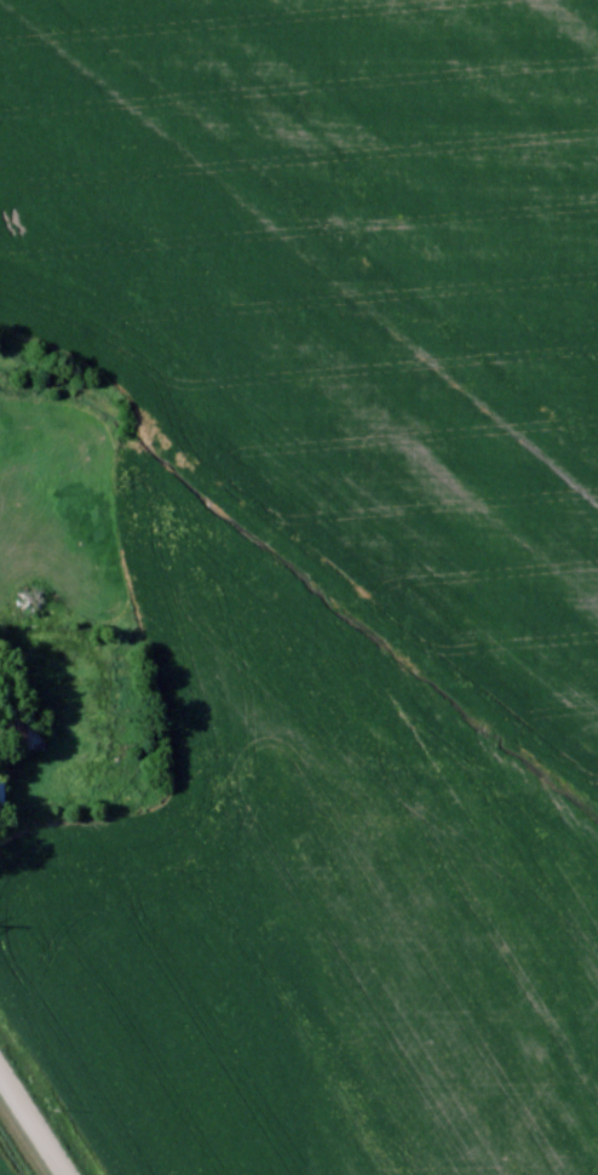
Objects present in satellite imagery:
building: (22, 728)
road: (33, 1123)

